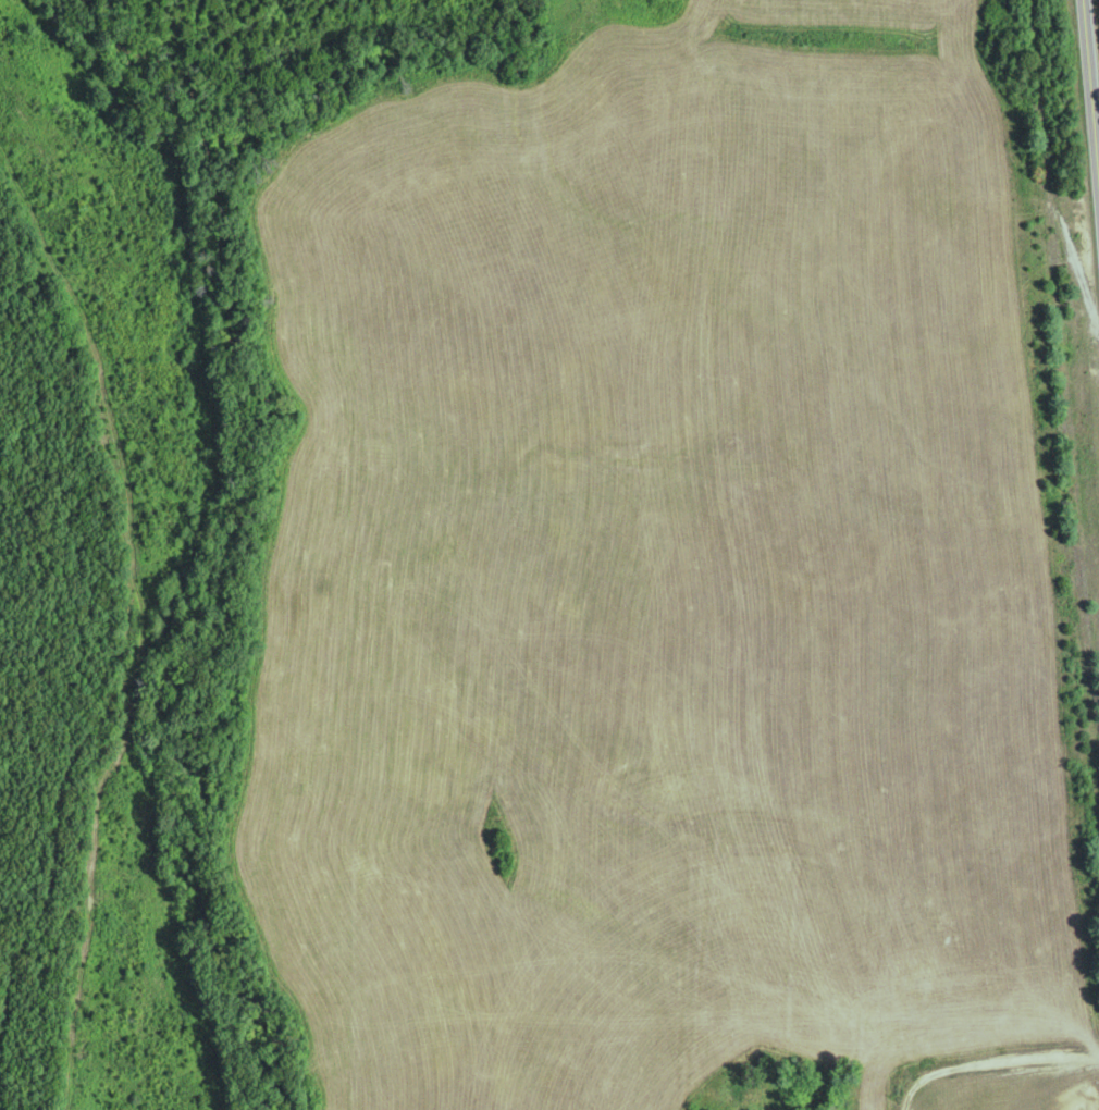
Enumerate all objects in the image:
road: (1091, 77)
road: (989, 1060)

